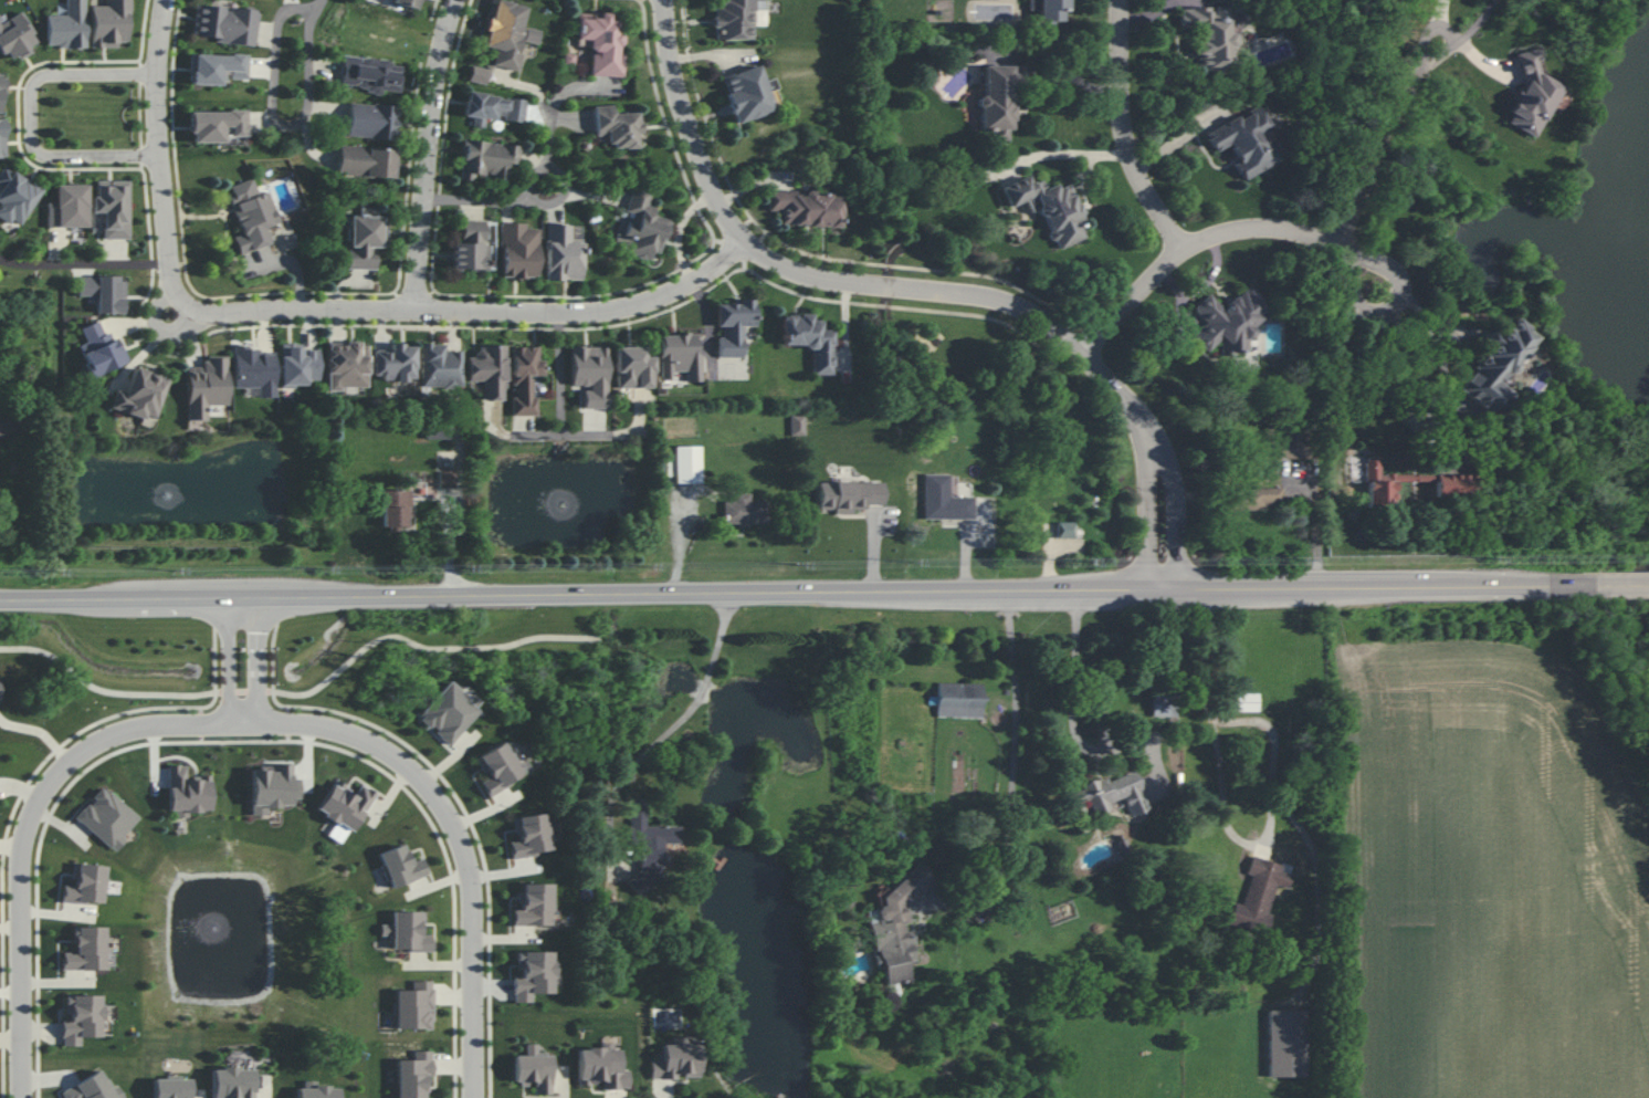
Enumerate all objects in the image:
building: (407, 3)
road: (322, 7)
building: (1047, 9)
building: (738, 18)
building: (108, 23)
building: (224, 24)
road: (1437, 24)
building: (66, 27)
road: (1466, 29)
building: (507, 33)
building: (1208, 35)
building: (15, 36)
building: (600, 42)
building: (217, 67)
building: (370, 74)
building: (477, 74)
building: (1, 93)
building: (748, 93)
building: (1531, 94)
building: (997, 101)
road: (559, 102)
building: (493, 107)
road: (36, 115)
road: (301, 119)
building: (371, 121)
building: (217, 125)
building: (616, 126)
road: (1127, 130)
building: (2, 138)
building: (1244, 142)
road: (1063, 151)
road: (429, 155)
building: (487, 158)
building: (366, 161)
road: (162, 188)
building: (14, 196)
road: (539, 202)
building: (67, 207)
building: (113, 207)
building: (806, 208)
building: (1049, 208)
building: (251, 215)
building: (641, 227)
road: (681, 232)
road: (1300, 232)
building: (363, 238)
building: (470, 248)
building: (518, 251)
building: (563, 253)
road: (85, 265)
road: (834, 282)
building: (104, 293)
road: (1390, 309)
road: (462, 312)
building: (1229, 321)
building: (733, 325)
building: (809, 339)
building: (99, 349)
building: (680, 355)
building: (395, 363)
building: (297, 365)
building: (440, 365)
building: (1495, 366)
building: (633, 367)
building: (347, 368)
building: (254, 369)
building: (489, 370)
road: (561, 373)
building: (590, 374)
building: (524, 378)
road: (1427, 383)
building: (206, 387)
building: (139, 394)
building: (797, 425)
building: (8, 427)
building: (438, 431)
road: (570, 433)
building: (1293, 443)
building: (686, 464)
building: (447, 479)
building: (1379, 481)
building: (1453, 484)
building: (849, 495)
building: (1259, 498)
building: (947, 499)
road: (1148, 503)
building: (396, 508)
road: (1176, 509)
building: (745, 510)
building: (1064, 530)
road: (1625, 583)
road: (800, 590)
road: (432, 647)
road: (240, 656)
road: (102, 689)
road: (243, 691)
road: (702, 691)
building: (959, 700)
building: (1244, 702)
road: (1074, 703)
building: (1164, 705)
building: (449, 712)
road: (1013, 750)
road: (1155, 760)
building: (497, 767)
building: (272, 787)
building: (187, 792)
building: (1111, 794)
building: (344, 809)
road: (1225, 816)
building: (107, 817)
road: (25, 832)
building: (531, 835)
road: (455, 836)
building: (649, 844)
building: (400, 866)
building: (85, 885)
building: (1258, 895)
building: (534, 906)
building: (896, 926)
building: (409, 931)
building: (86, 950)
building: (534, 975)
building: (414, 1006)
building: (81, 1018)
building: (1286, 1043)
building: (675, 1060)
building: (600, 1067)
building: (533, 1069)
building: (413, 1075)
building: (232, 1083)
building: (92, 1088)
building: (170, 1088)
building: (317, 1090)

